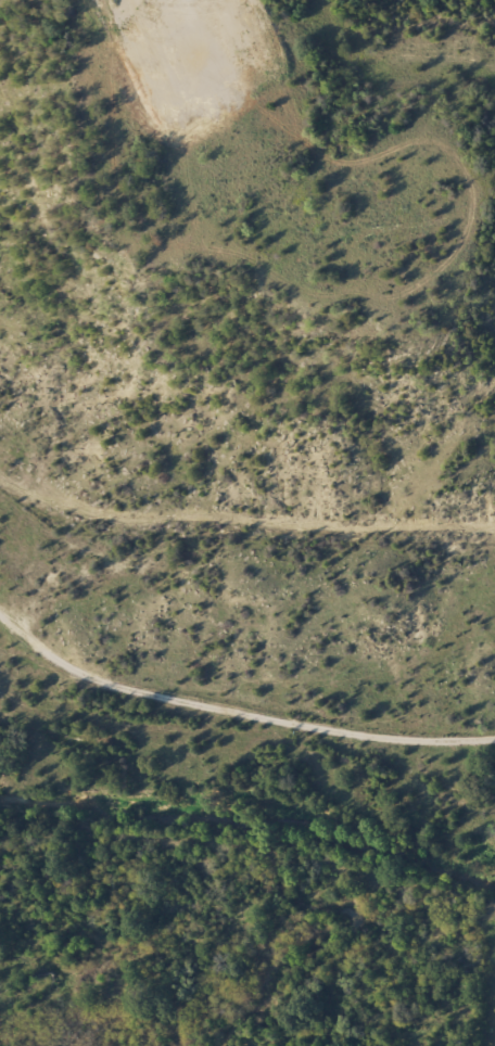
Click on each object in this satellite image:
road: (228, 891)

